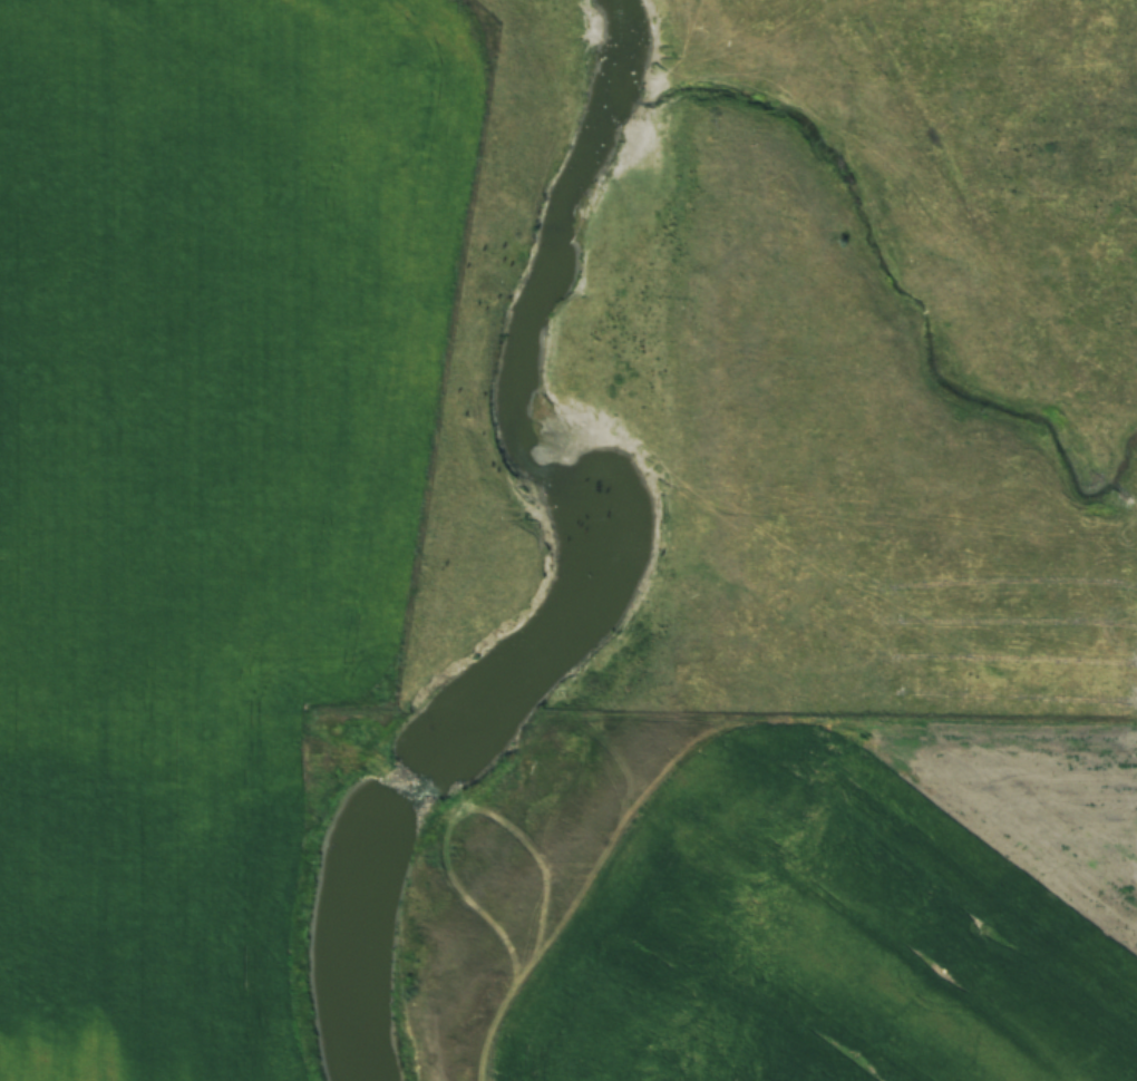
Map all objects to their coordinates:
river: (587, 555)

